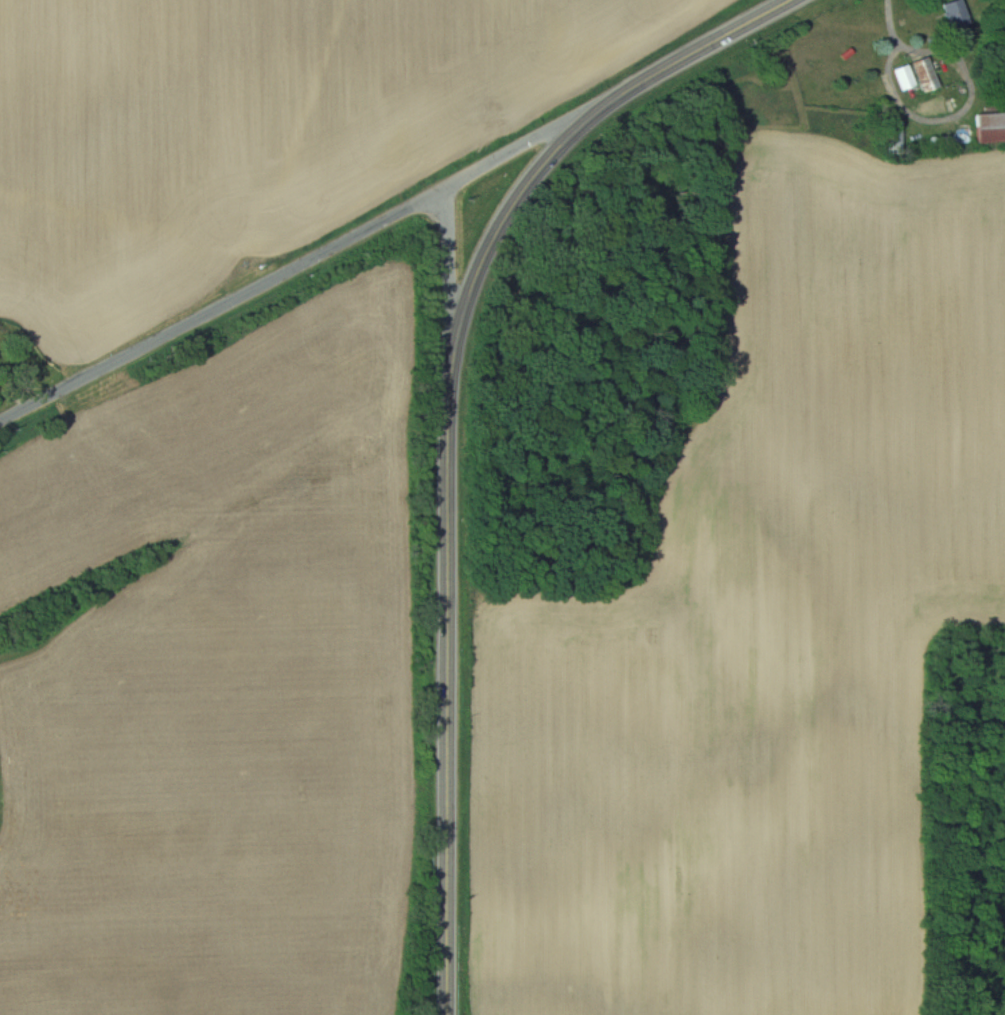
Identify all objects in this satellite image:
building: (958, 14)
building: (927, 74)
building: (905, 78)
building: (991, 128)
building: (894, 137)
road: (323, 252)
road: (448, 286)
road: (448, 429)

